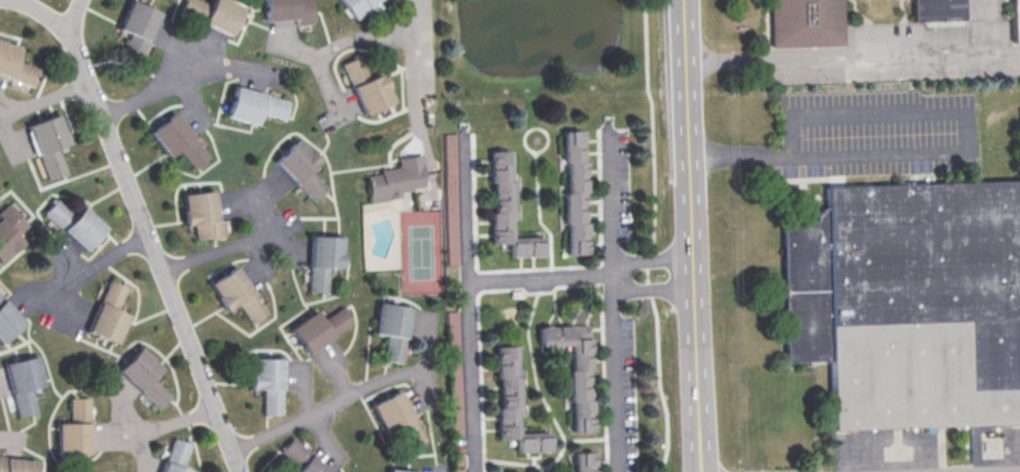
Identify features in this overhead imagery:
building: (355, 6)
building: (937, 11)
building: (288, 12)
building: (221, 15)
road: (47, 17)
building: (1016, 21)
building: (807, 24)
building: (135, 30)
road: (330, 44)
road: (293, 46)
road: (852, 60)
building: (14, 65)
building: (353, 70)
road: (415, 75)
road: (184, 80)
road: (181, 85)
building: (371, 94)
road: (43, 96)
building: (254, 105)
building: (177, 140)
road: (7, 141)
building: (46, 144)
road: (951, 153)
building: (299, 168)
building: (448, 172)
building: (396, 179)
building: (573, 192)
building: (506, 208)
building: (202, 215)
building: (15, 224)
building: (73, 224)
road: (689, 235)
road: (146, 236)
building: (6, 240)
road: (236, 243)
road: (649, 258)
building: (323, 260)
road: (96, 263)
road: (539, 277)
road: (648, 289)
building: (235, 293)
road: (613, 304)
road: (465, 305)
building: (910, 306)
building: (107, 313)
building: (7, 320)
building: (319, 328)
building: (392, 329)
building: (573, 369)
building: (142, 377)
building: (266, 382)
building: (22, 383)
building: (513, 404)
road: (325, 405)
building: (397, 418)
road: (169, 422)
building: (73, 428)
building: (175, 456)
building: (582, 461)
building: (304, 462)
building: (16, 464)
building: (397, 470)
road: (1016, 471)

